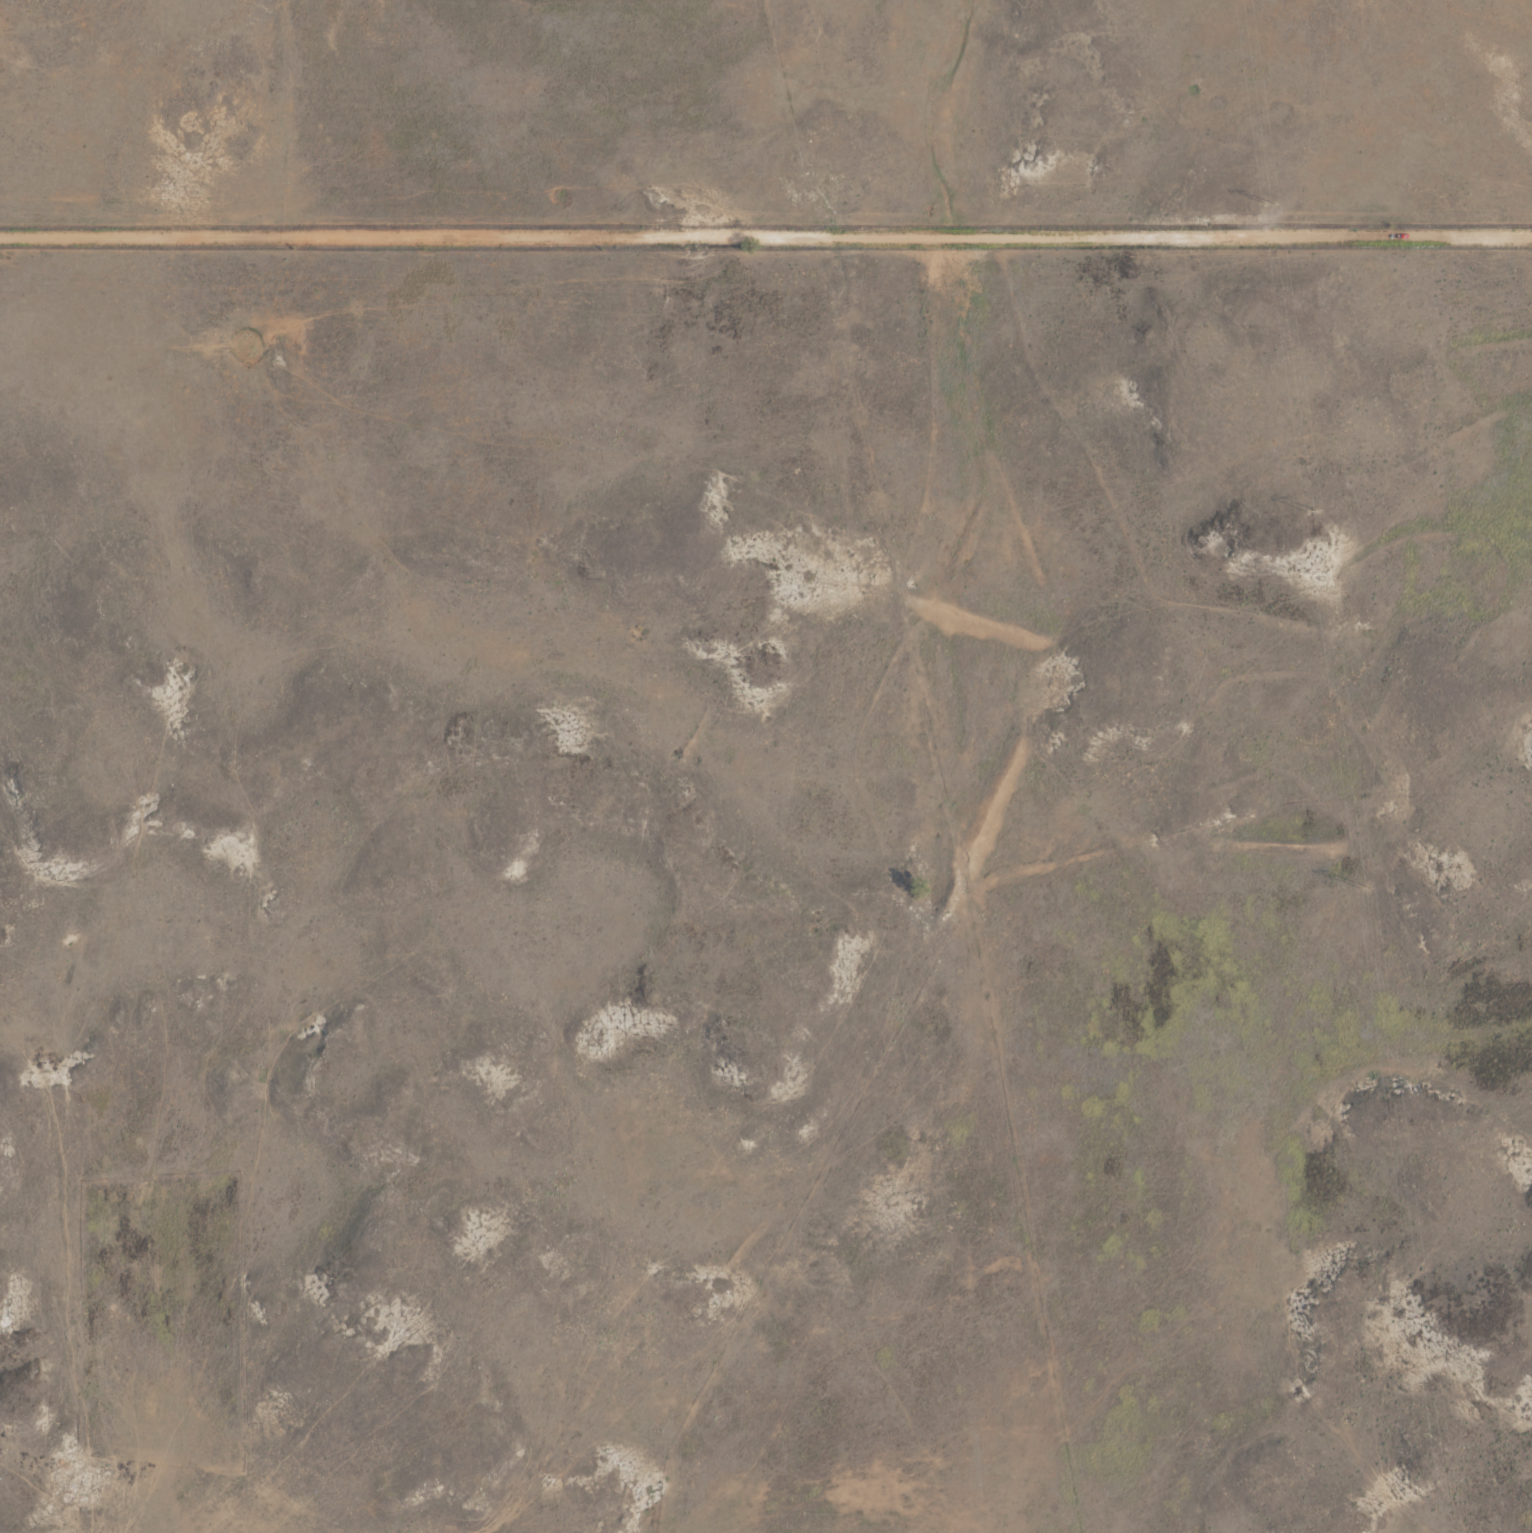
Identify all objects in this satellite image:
power tower: (1270, 203)
road: (766, 236)
power tower: (1312, 510)
power tower: (1365, 888)
power tower: (1422, 1315)

